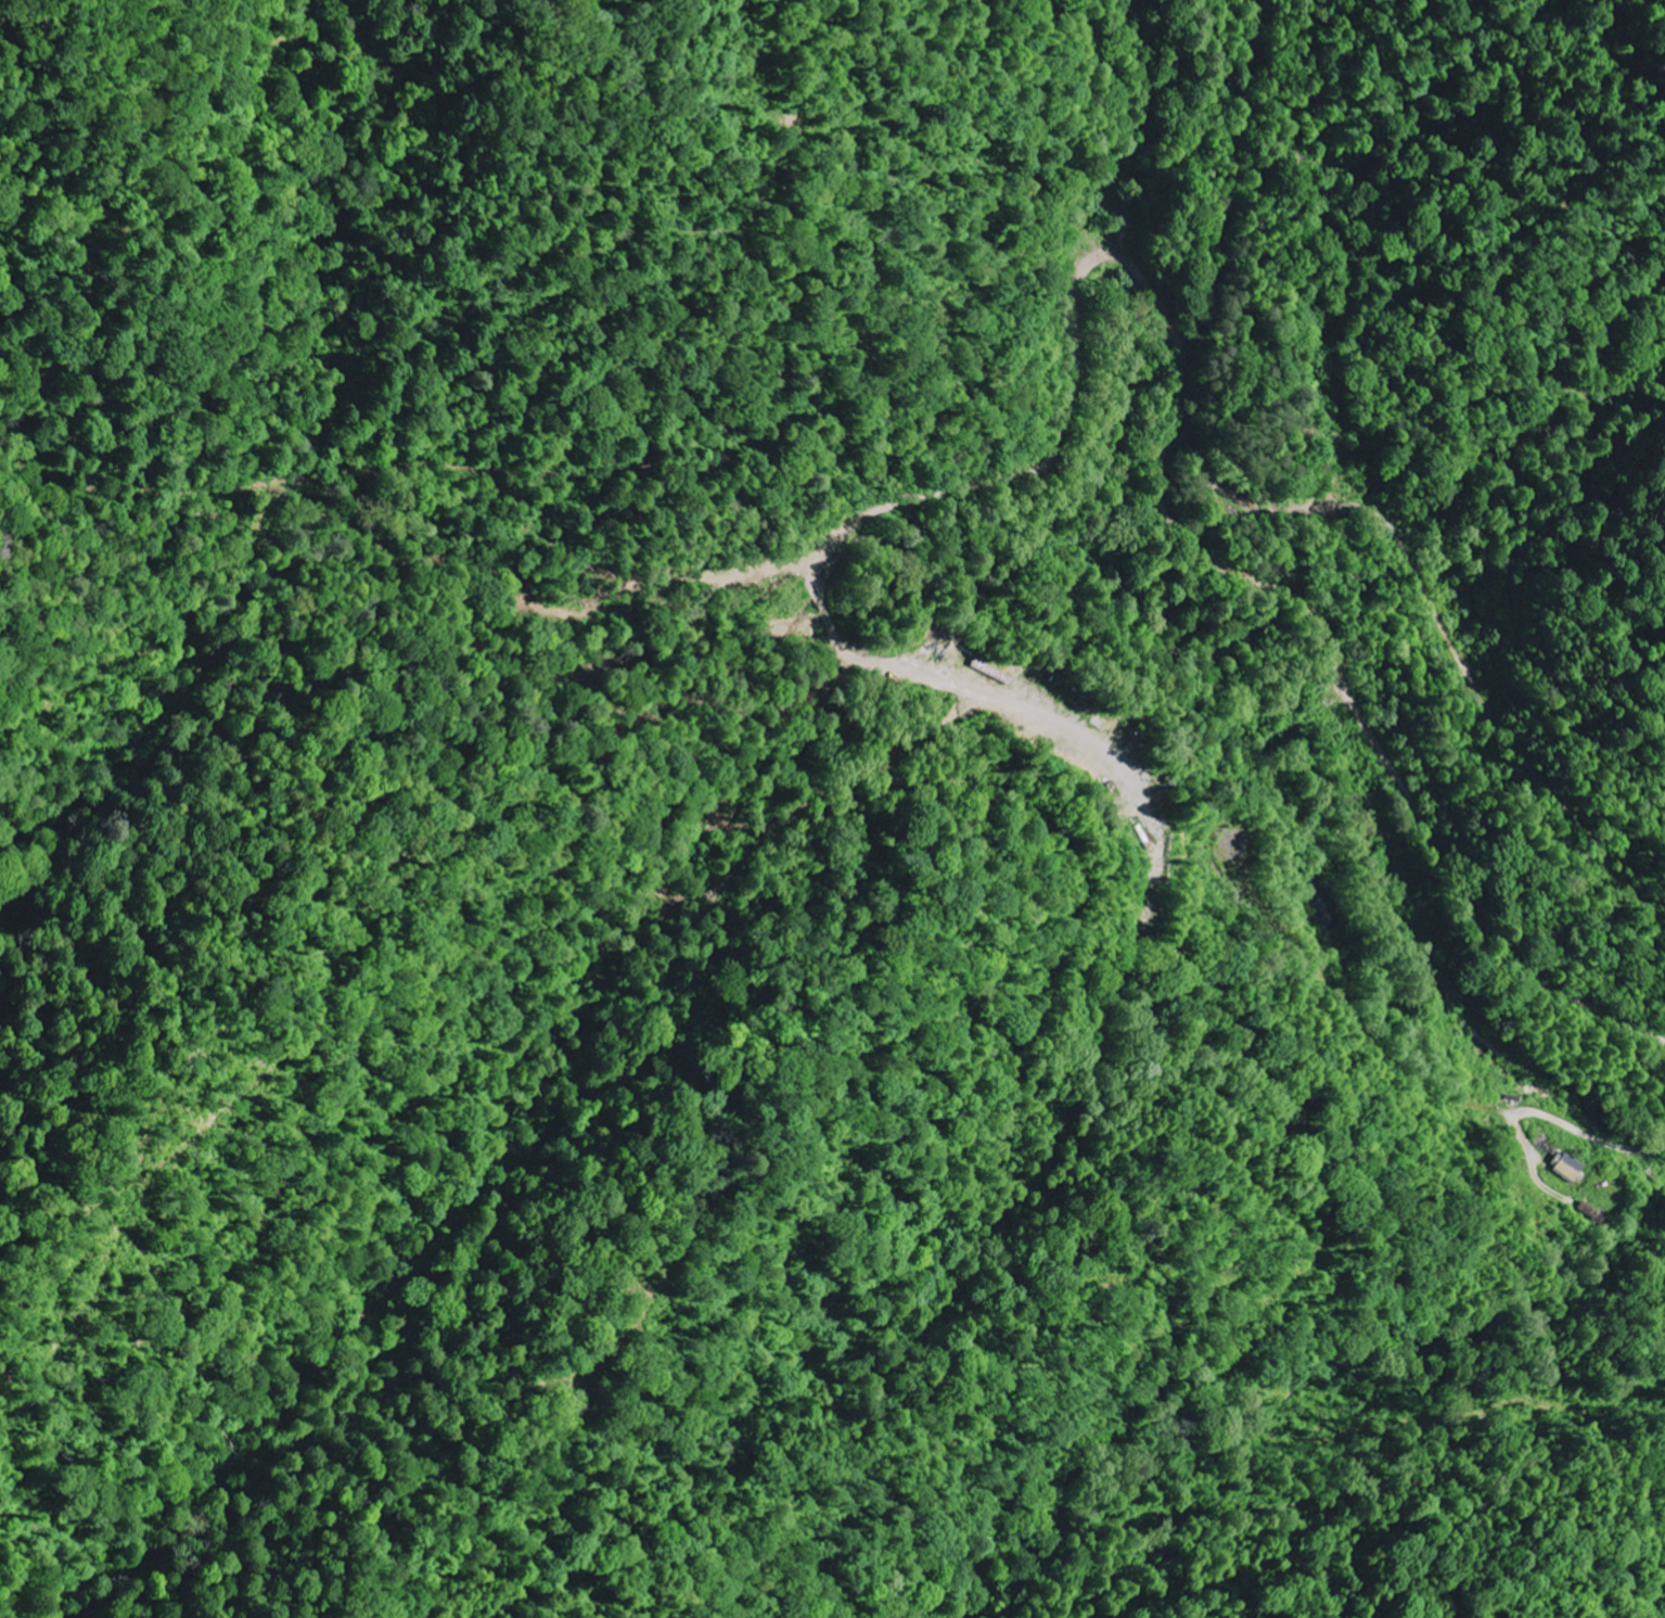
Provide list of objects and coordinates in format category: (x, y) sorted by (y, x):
road: (1662, 1152)
building: (1566, 1168)

